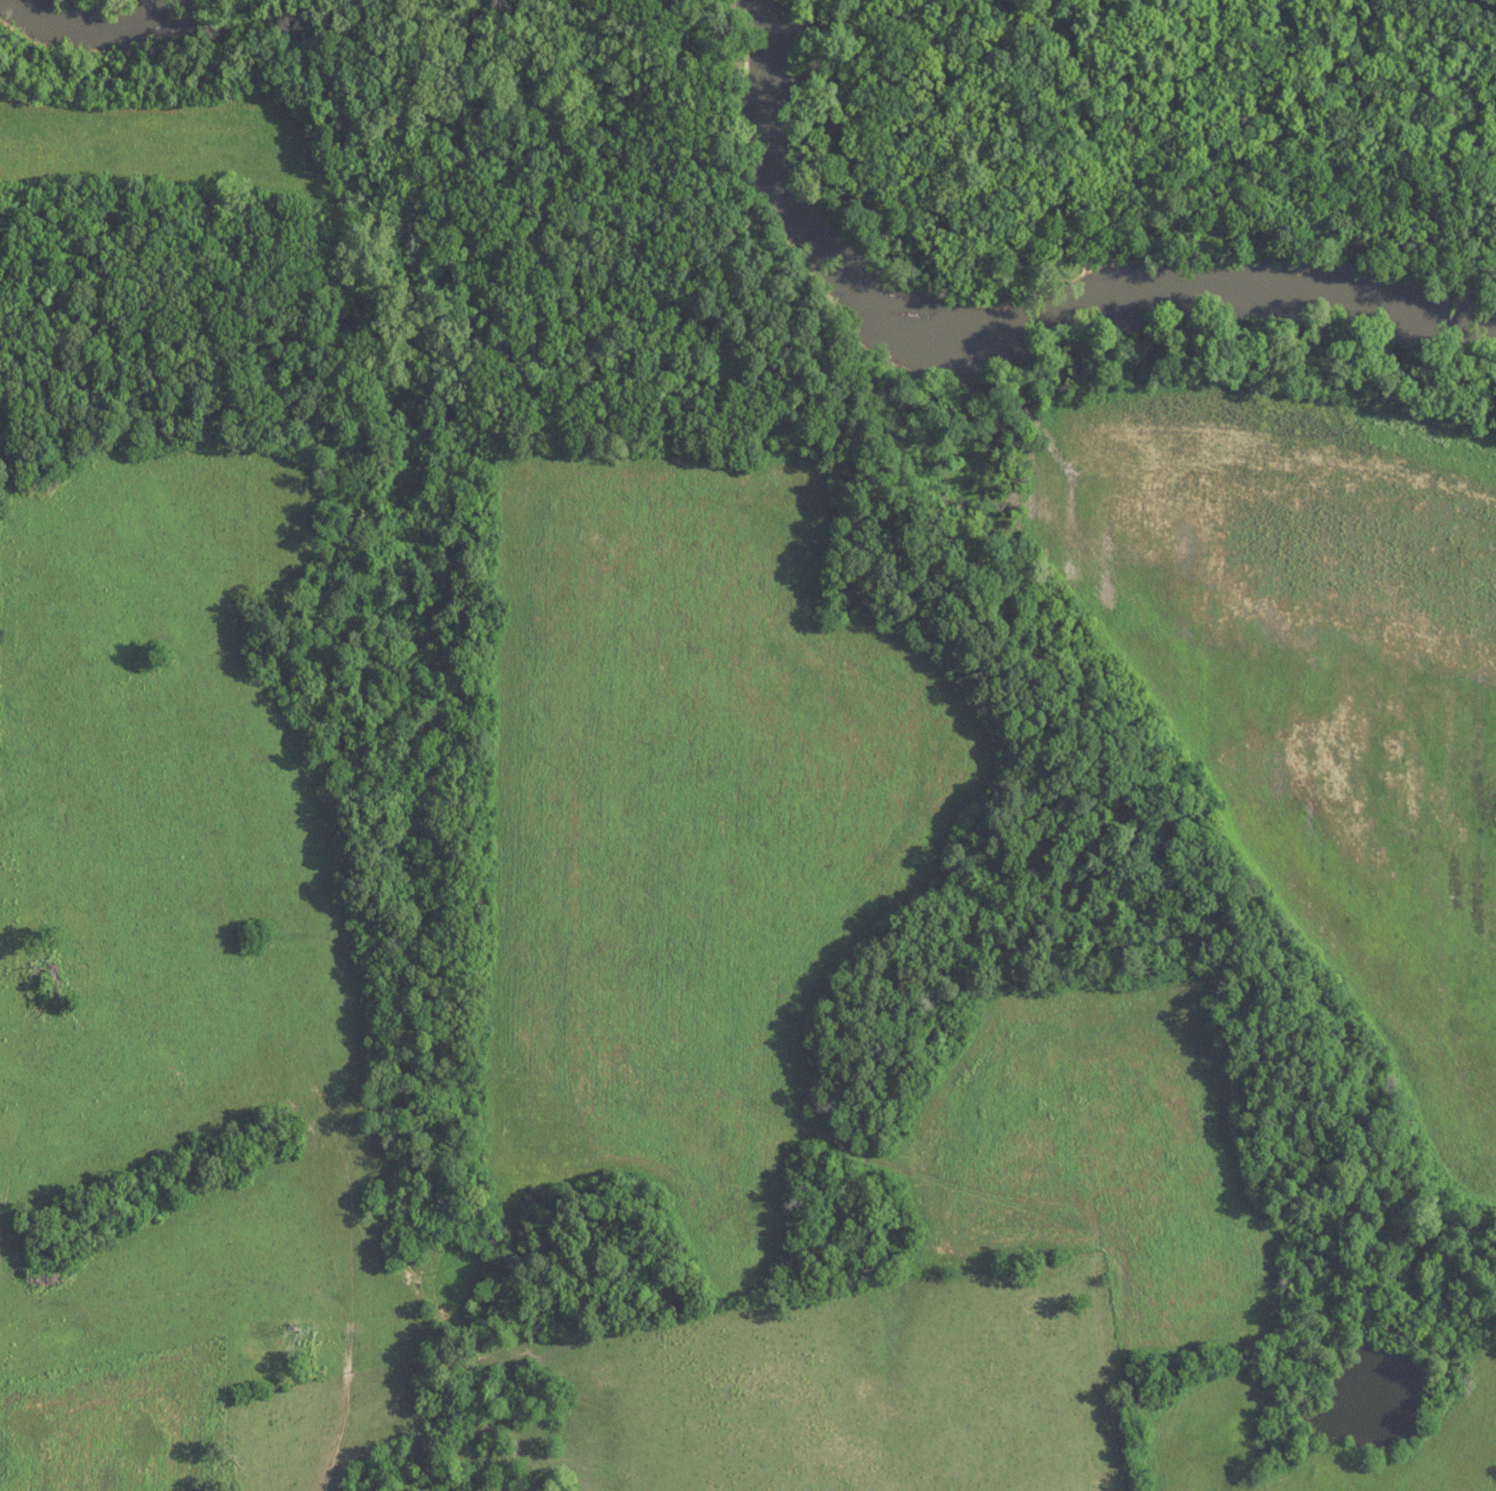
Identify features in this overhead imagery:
river: (104, 8)
river: (1004, 349)
road: (920, 1180)

